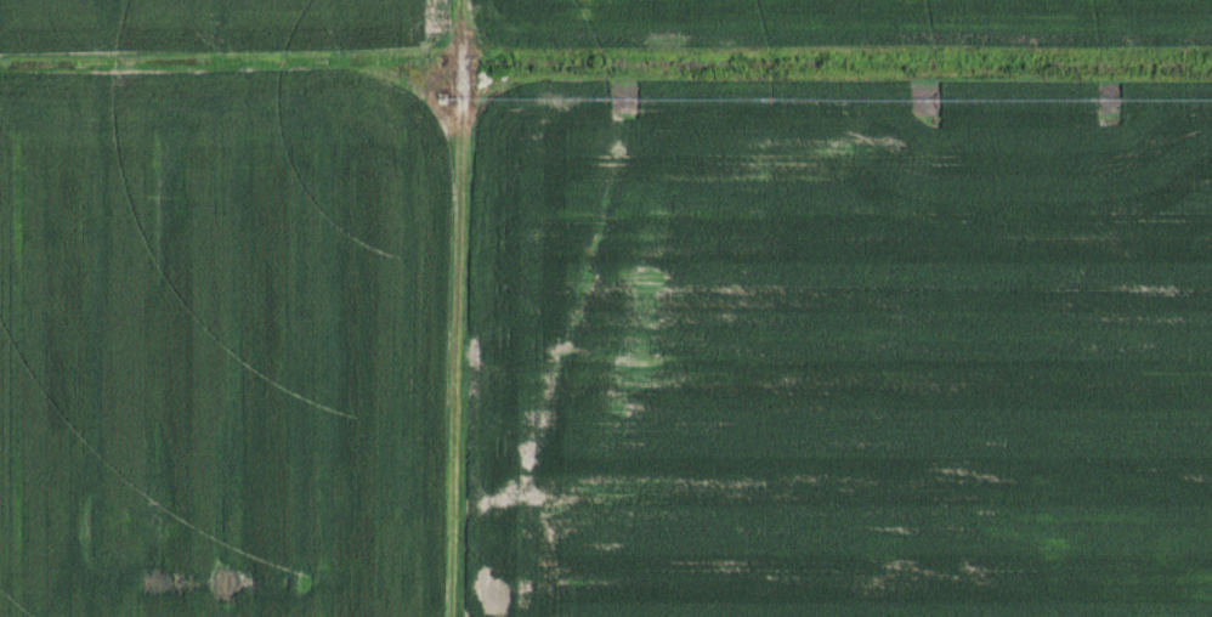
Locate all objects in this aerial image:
road: (455, 335)

